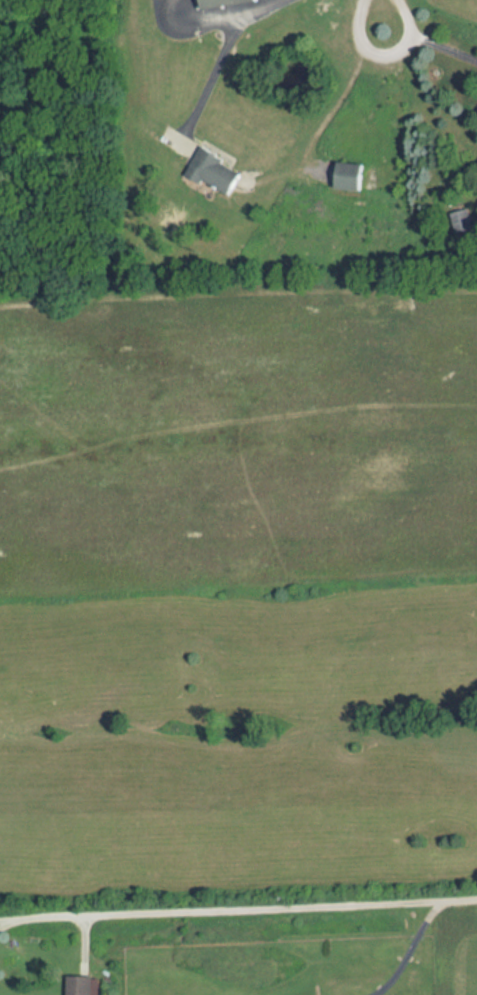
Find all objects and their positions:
building: (217, 2)
road: (388, 12)
road: (230, 35)
road: (431, 43)
road: (344, 93)
road: (215, 95)
building: (211, 173)
building: (344, 176)
building: (460, 221)
road: (463, 901)
road: (231, 907)
road: (7, 918)
road: (7, 922)
road: (412, 949)
building: (81, 985)

